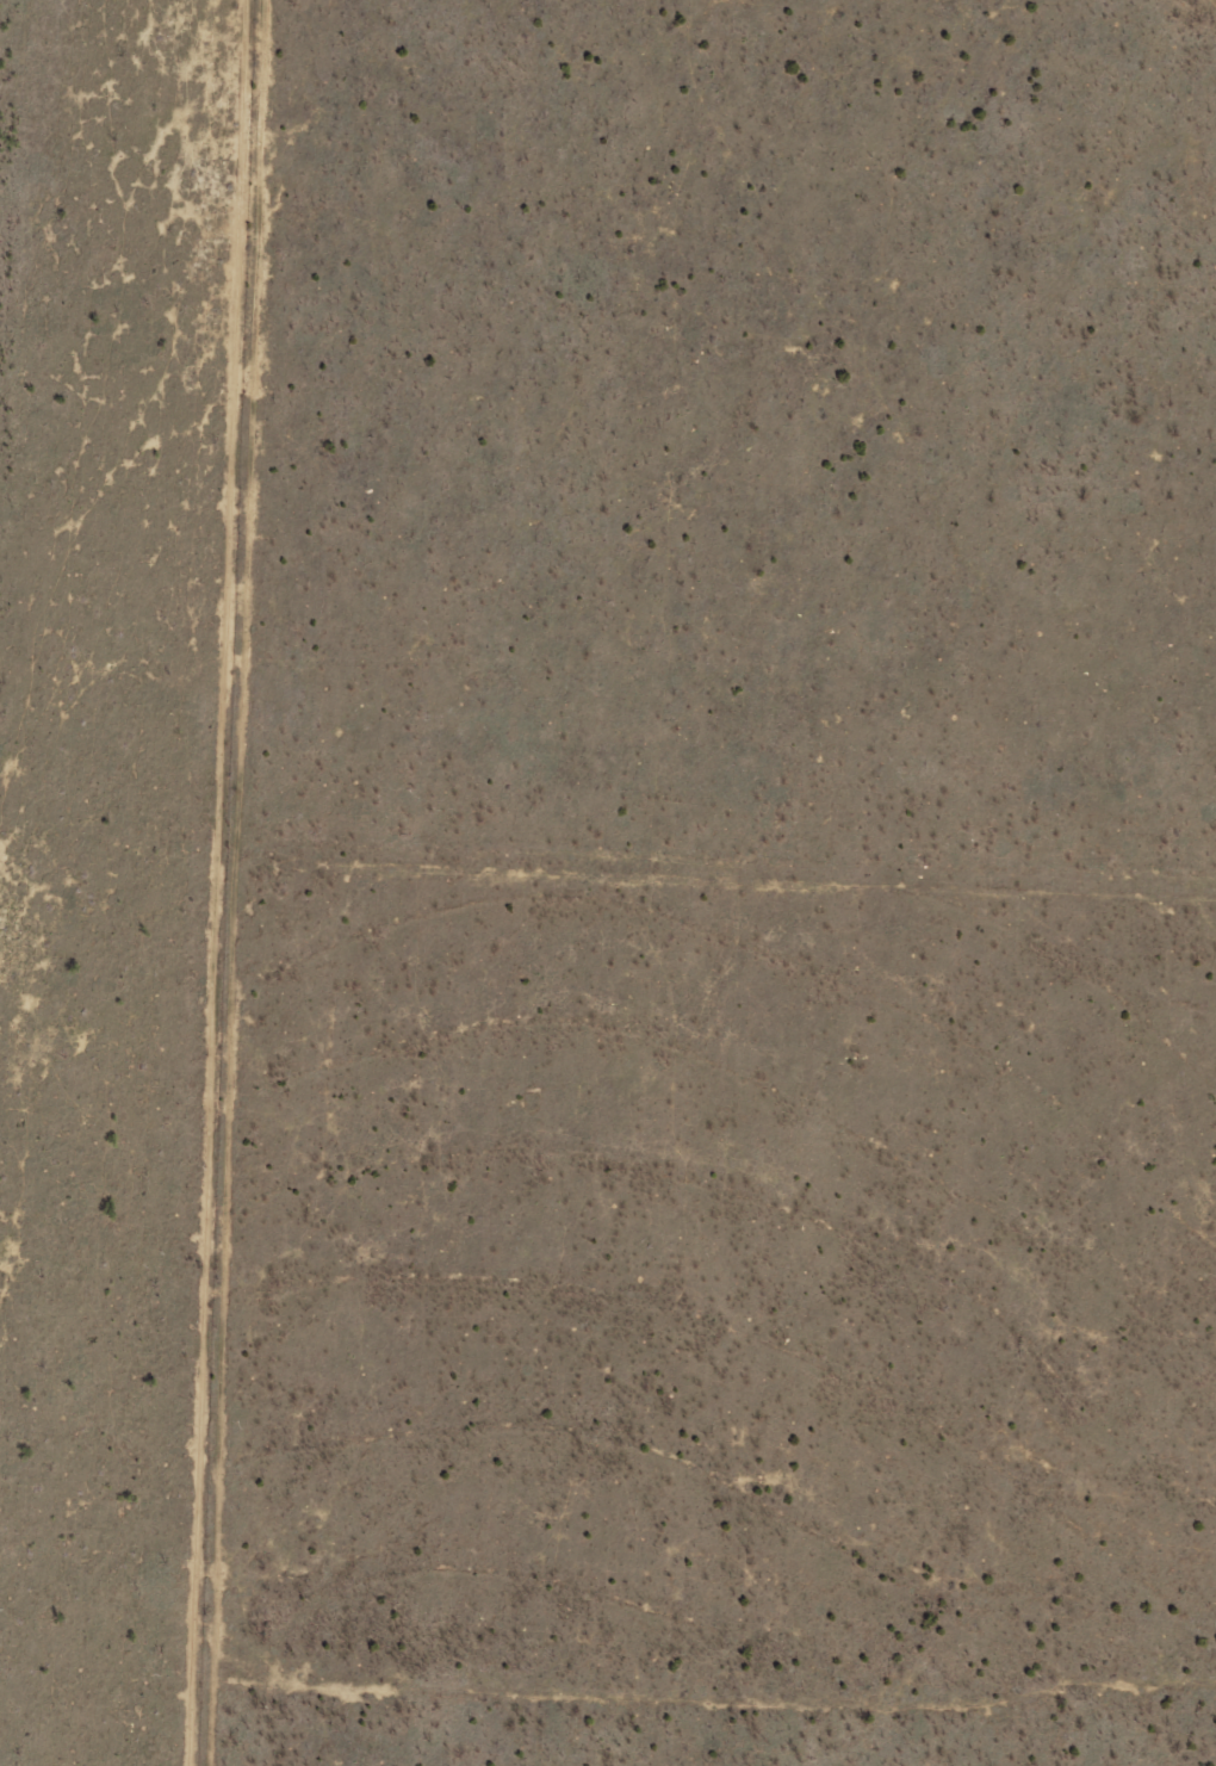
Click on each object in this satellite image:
road: (1193, 20)

